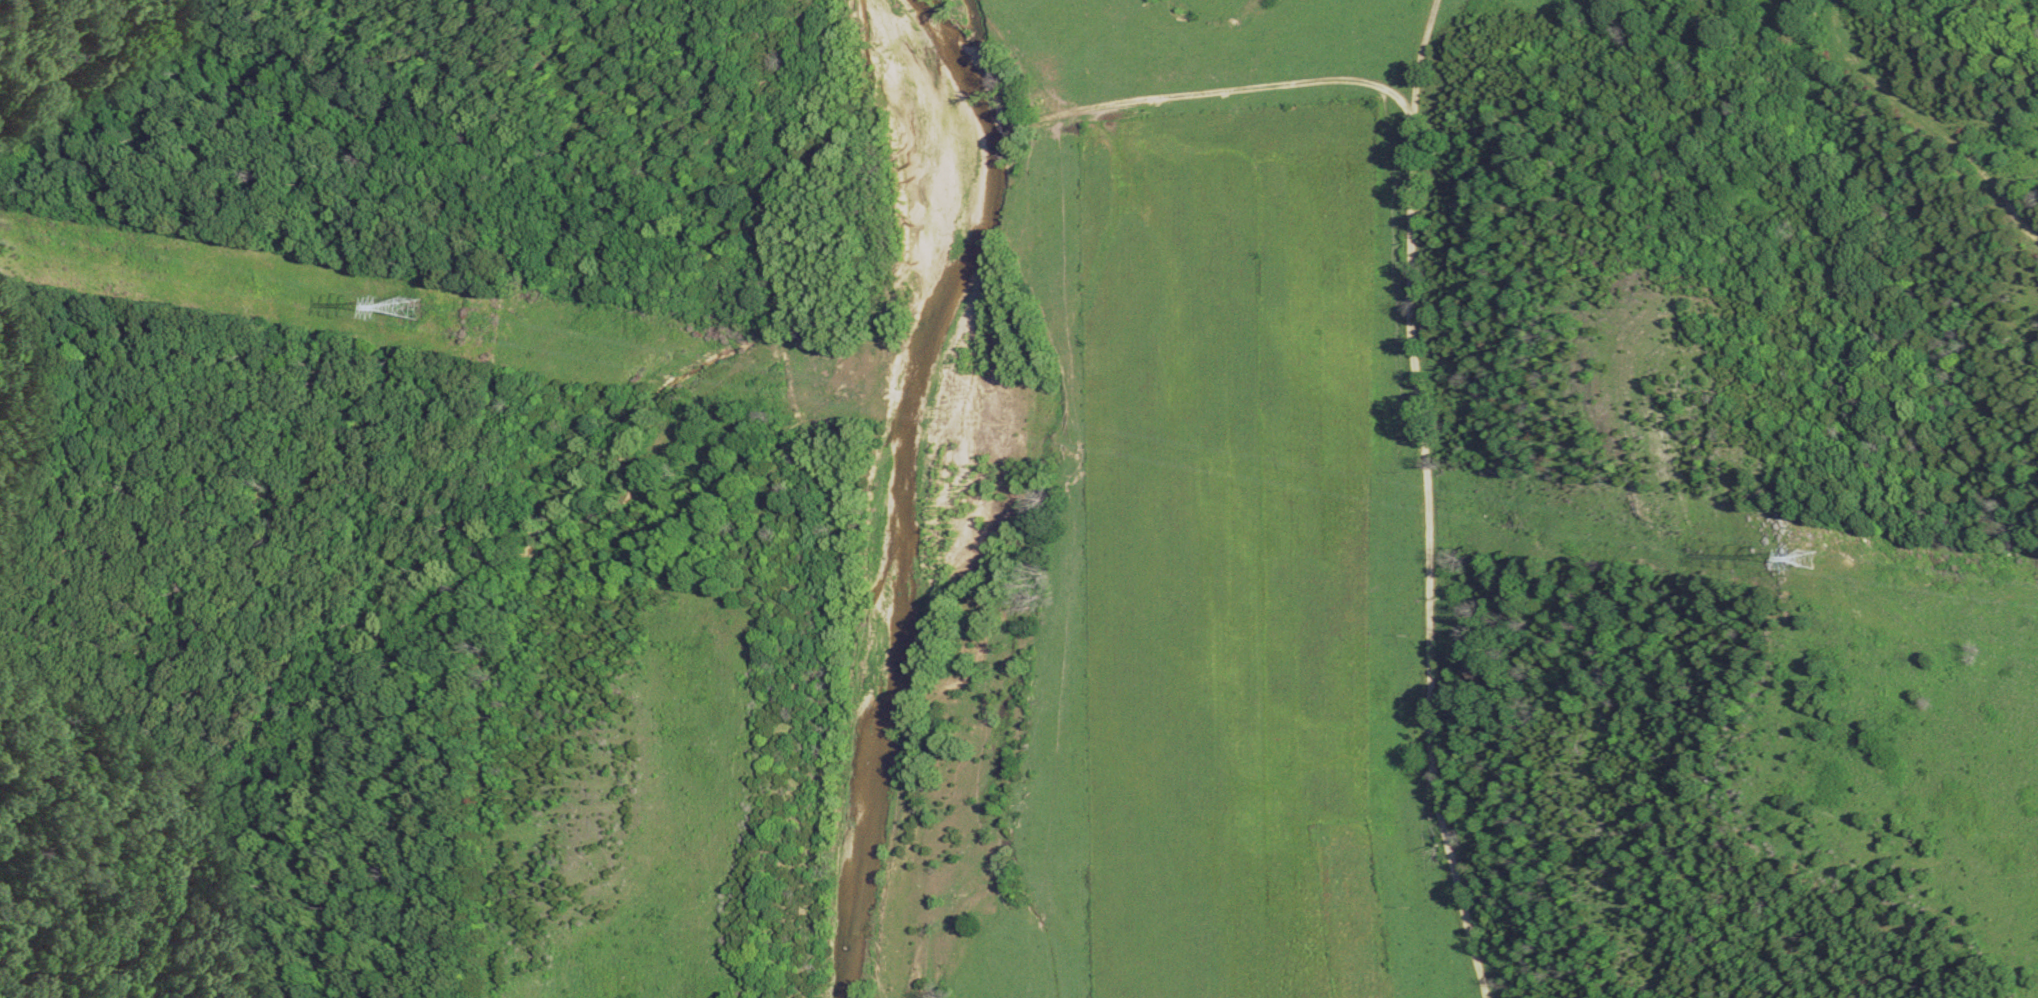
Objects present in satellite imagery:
road: (1179, 97)
road: (1440, 500)

